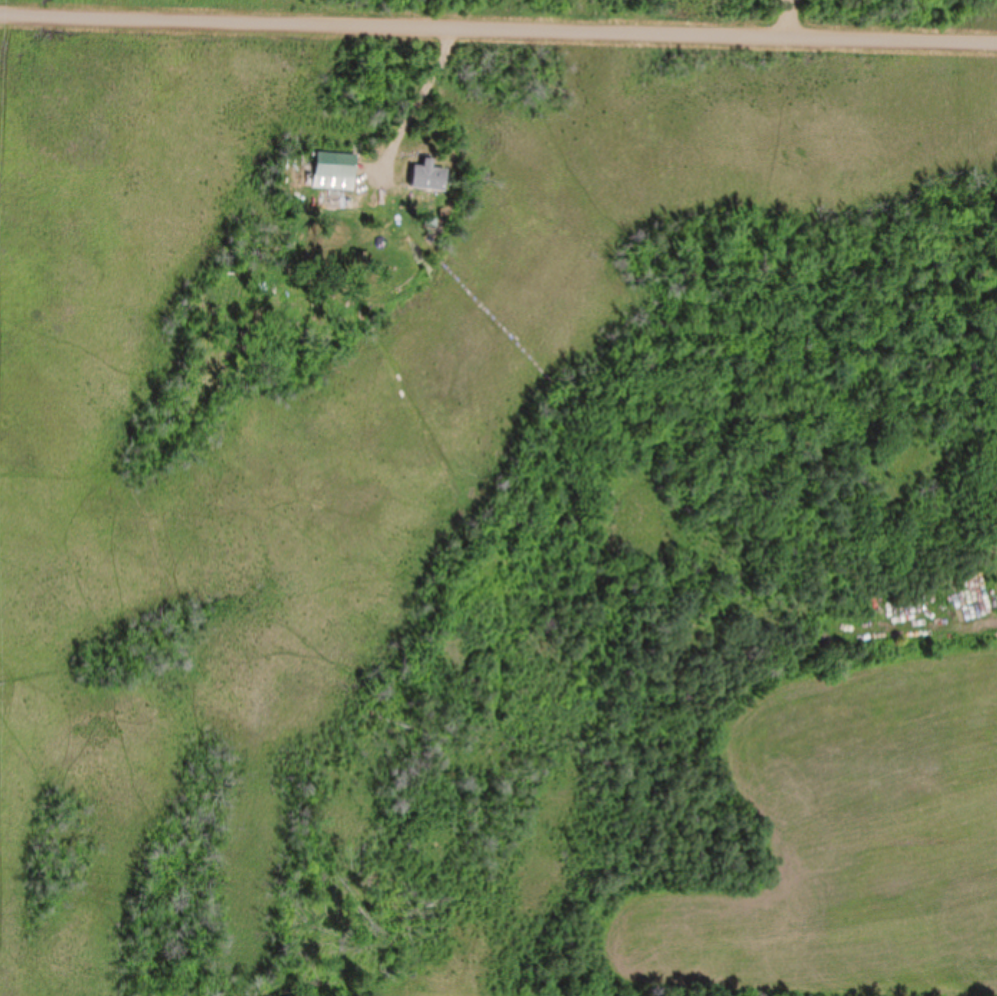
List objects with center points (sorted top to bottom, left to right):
road: (498, 34)
road: (416, 106)
building: (336, 166)
building: (429, 177)

